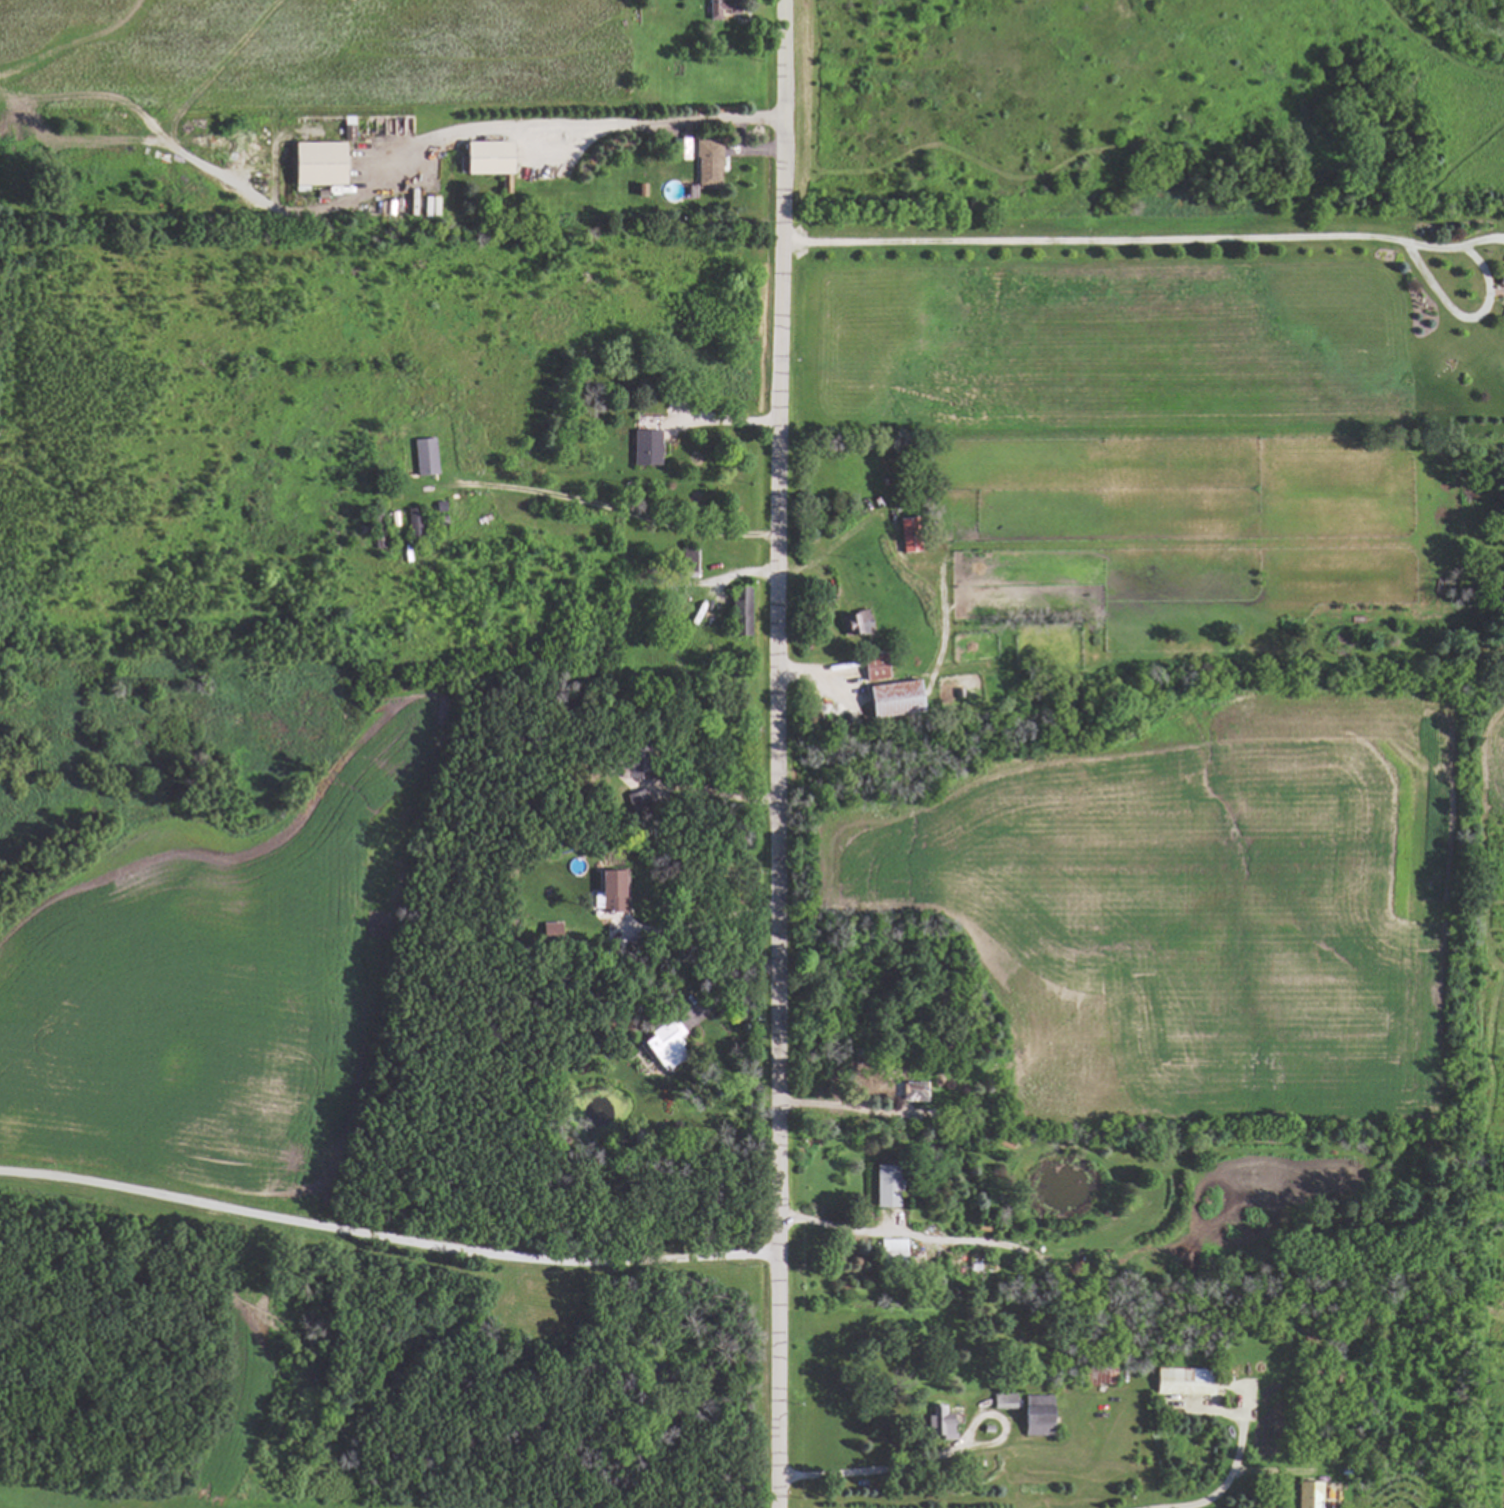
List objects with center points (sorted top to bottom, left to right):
building: (715, 8)
road: (568, 128)
building: (678, 149)
building: (484, 159)
building: (316, 164)
building: (430, 206)
road: (1212, 229)
building: (1500, 277)
building: (1503, 317)
road: (716, 419)
building: (644, 447)
building: (423, 456)
road: (642, 519)
building: (907, 534)
building: (686, 560)
building: (741, 610)
building: (854, 622)
building: (873, 668)
building: (892, 698)
road: (776, 754)
road: (709, 790)
building: (610, 892)
road: (711, 927)
building: (549, 931)
building: (662, 1042)
road: (827, 1105)
building: (884, 1186)
road: (831, 1225)
road: (385, 1229)
building: (891, 1250)
building: (1178, 1382)
building: (1002, 1401)
building: (1035, 1415)
building: (937, 1421)
road: (884, 1467)
road: (1231, 1471)
building: (1308, 1494)

